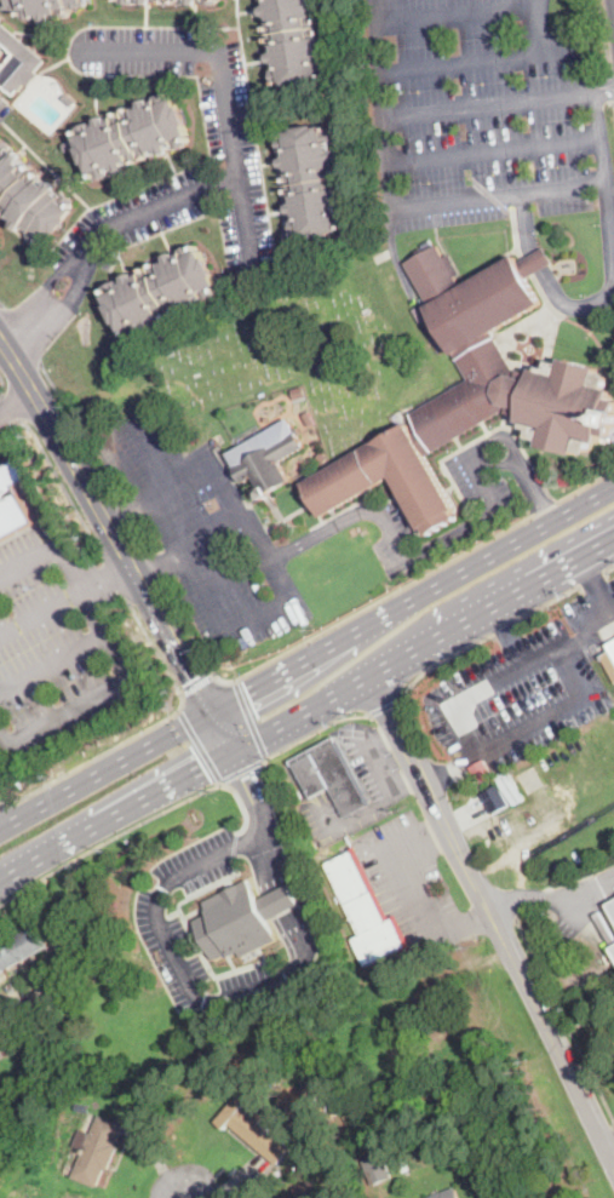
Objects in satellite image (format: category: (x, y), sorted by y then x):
building: (5, 0)
building: (131, 1)
building: (147, 1)
building: (213, 1)
building: (195, 2)
building: (45, 7)
road: (458, 15)
road: (604, 35)
building: (295, 41)
road: (460, 62)
building: (18, 63)
road: (591, 67)
road: (613, 76)
road: (380, 80)
road: (604, 90)
building: (68, 99)
road: (489, 103)
parking lot: (4, 110)
parking lot: (476, 113)
parking lot: (230, 117)
building: (133, 136)
road: (233, 142)
building: (68, 145)
road: (404, 159)
building: (314, 179)
building: (28, 199)
road: (246, 223)
road: (551, 285)
building: (162, 291)
road: (1, 303)
building: (366, 311)
road: (44, 313)
road: (19, 333)
park: (303, 355)
building: (319, 367)
road: (4, 379)
building: (300, 390)
building: (474, 391)
road: (17, 403)
road: (15, 407)
building: (310, 417)
road: (79, 429)
road: (513, 440)
road: (147, 447)
road: (70, 453)
building: (266, 455)
parking lot: (480, 481)
road: (62, 482)
road: (144, 483)
road: (534, 488)
building: (12, 493)
road: (128, 509)
road: (127, 516)
road: (213, 532)
parking lot: (210, 537)
parking lot: (392, 539)
road: (54, 543)
road: (143, 543)
road: (499, 548)
road: (157, 560)
road: (406, 561)
road: (157, 569)
road: (236, 575)
road: (116, 578)
road: (415, 580)
road: (111, 583)
road: (512, 601)
building: (36, 602)
road: (506, 627)
road: (193, 631)
road: (47, 641)
road: (174, 641)
building: (609, 659)
road: (299, 664)
traffic signals: (195, 677)
road: (199, 684)
parking lot: (527, 692)
traffic signals: (249, 695)
road: (97, 698)
road: (457, 705)
road: (388, 706)
road: (252, 720)
road: (142, 732)
road: (223, 732)
road: (317, 732)
road: (200, 746)
parking lot: (373, 760)
road: (237, 762)
road: (452, 764)
road: (206, 766)
road: (107, 768)
traffic signals: (202, 768)
road: (246, 770)
traffic signals: (245, 776)
building: (329, 776)
road: (400, 779)
road: (222, 784)
road: (435, 785)
road: (419, 790)
road: (394, 796)
building: (495, 797)
road: (262, 819)
road: (137, 822)
road: (435, 832)
road: (235, 846)
parking lot: (413, 876)
road: (1, 878)
road: (412, 882)
road: (590, 890)
road: (526, 898)
road: (291, 906)
building: (612, 906)
building: (366, 907)
parking lot: (157, 919)
building: (242, 919)
road: (465, 924)
road: (193, 932)
building: (21, 947)
building: (613, 950)
road: (171, 953)
road: (23, 1004)
road: (564, 1018)
road: (552, 1041)
building: (356, 1104)
building: (253, 1130)
road: (609, 1150)
building: (98, 1151)
building: (404, 1165)
building: (375, 1169)
building: (304, 1190)
building: (447, 1194)

